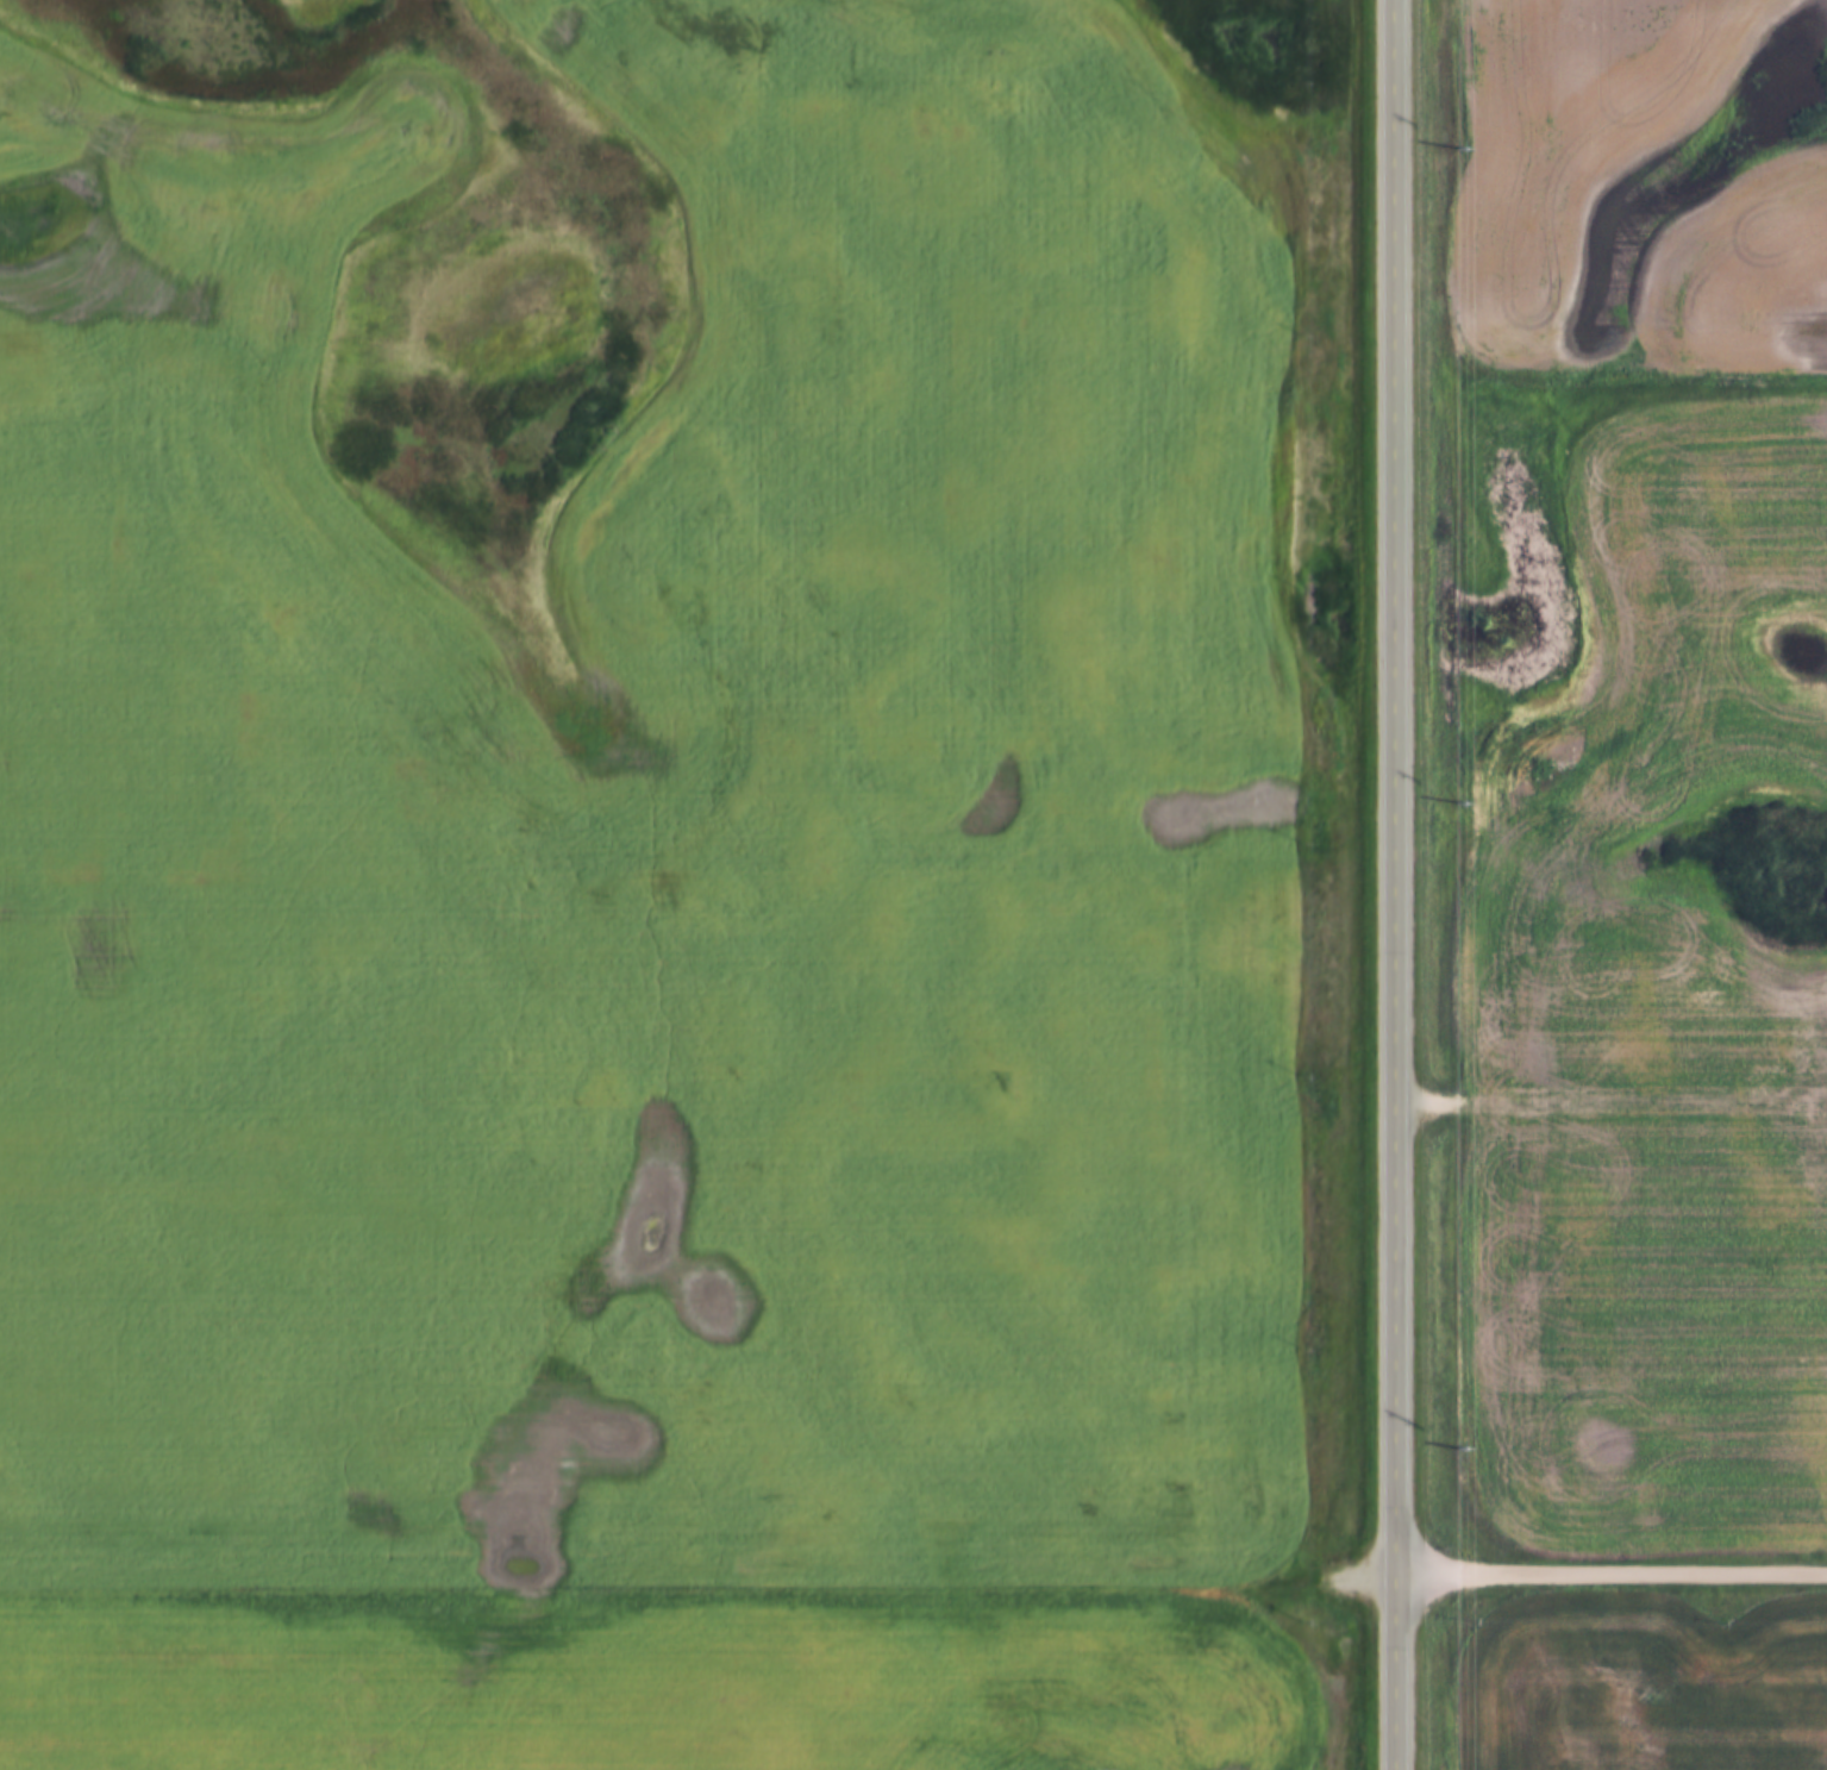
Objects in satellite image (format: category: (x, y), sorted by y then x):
road: (1391, 884)
road: (1601, 1105)
road: (1819, 1105)
road: (1819, 1109)
road: (1609, 1575)

